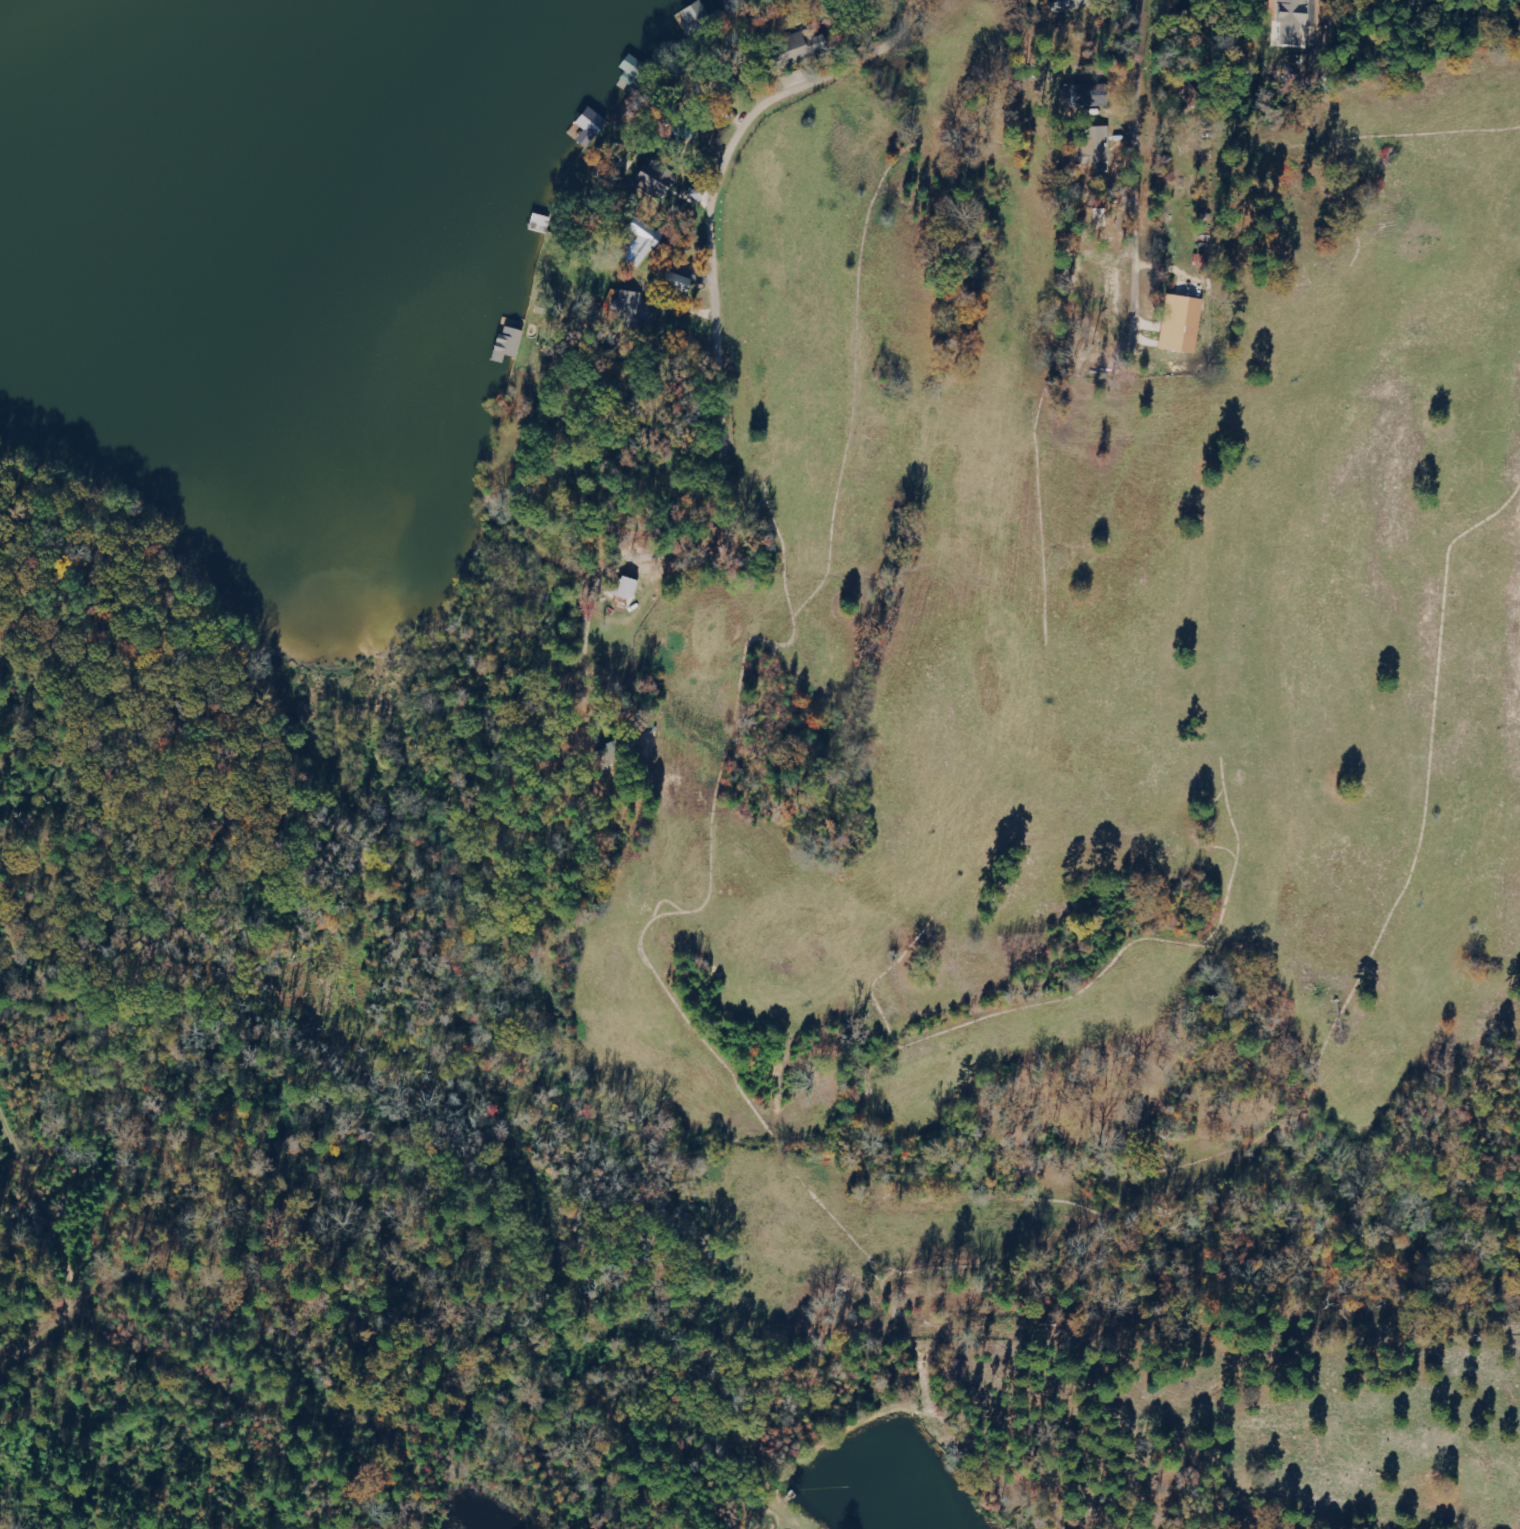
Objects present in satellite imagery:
building: (1290, 22)
road: (886, 104)
building: (1088, 152)
building: (675, 282)
building: (1178, 325)
building: (623, 589)

